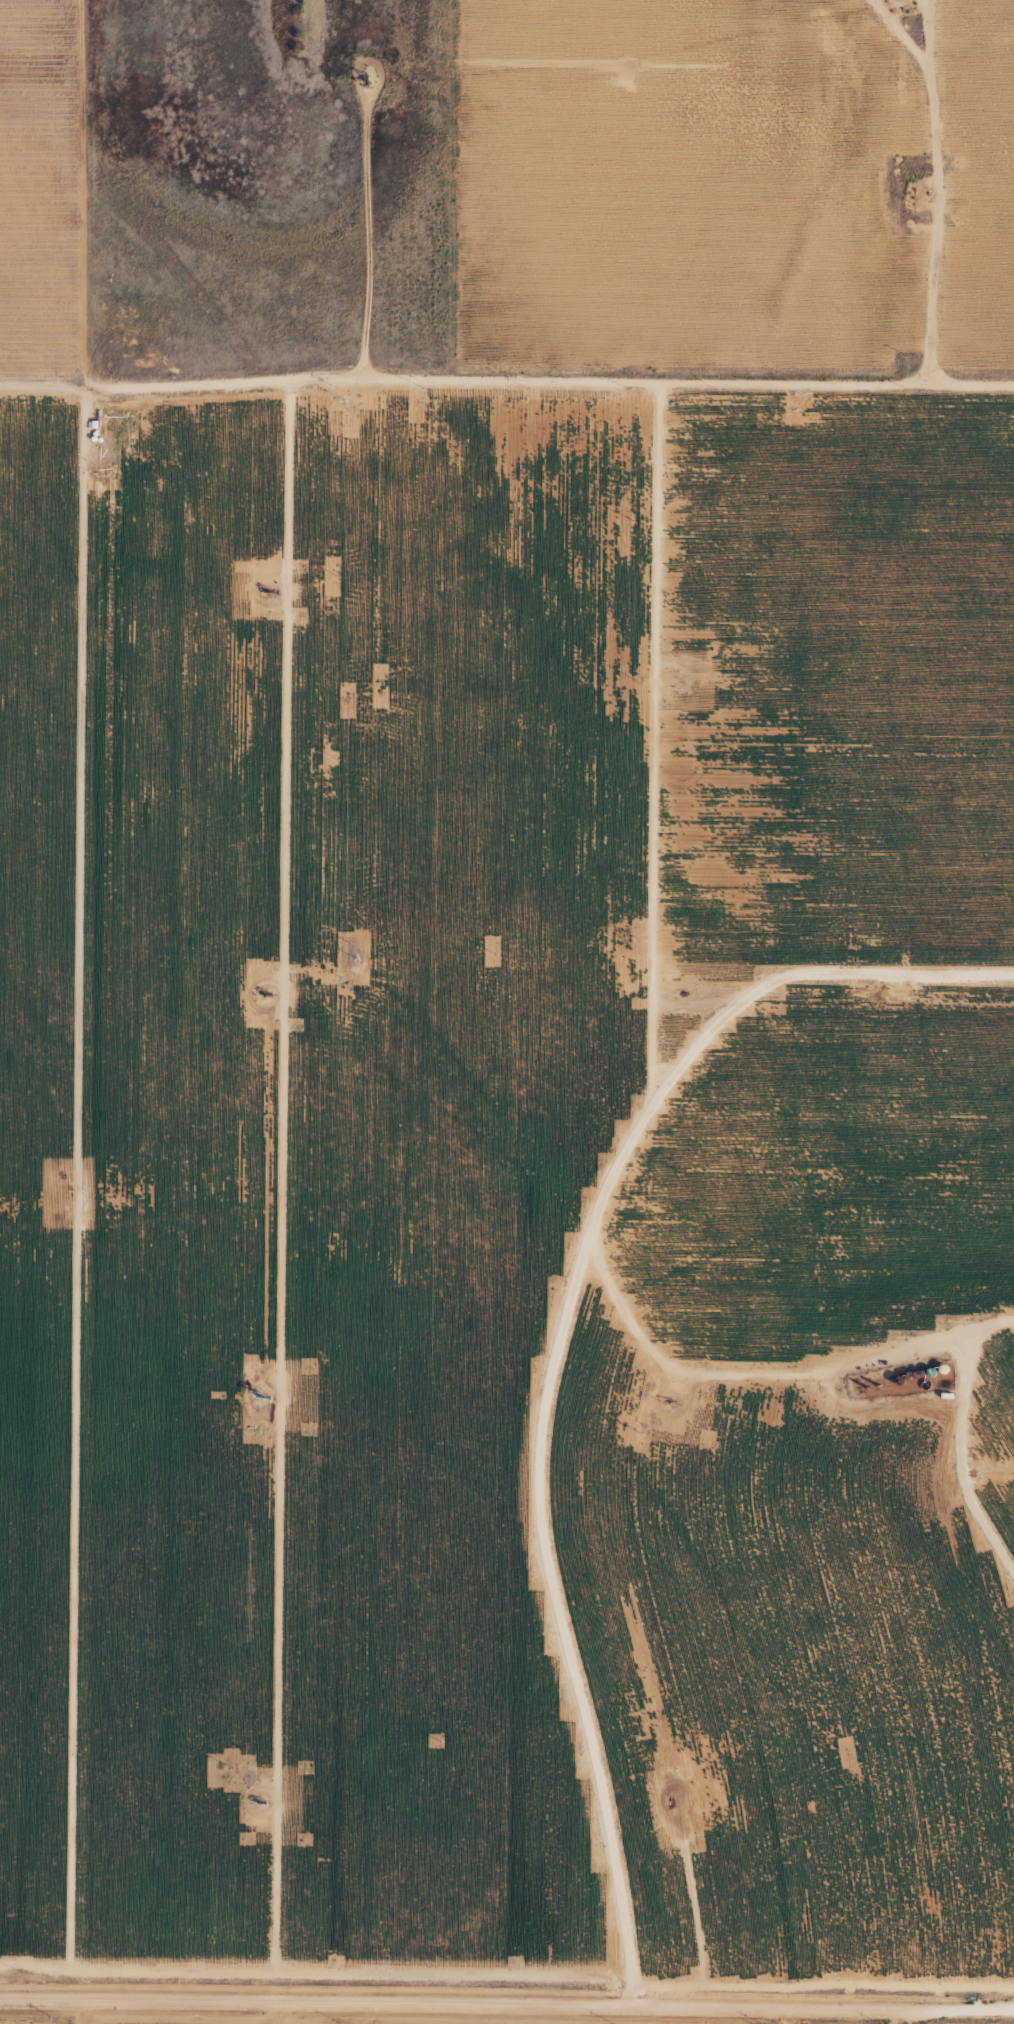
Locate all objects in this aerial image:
road: (507, 385)
road: (507, 2010)

